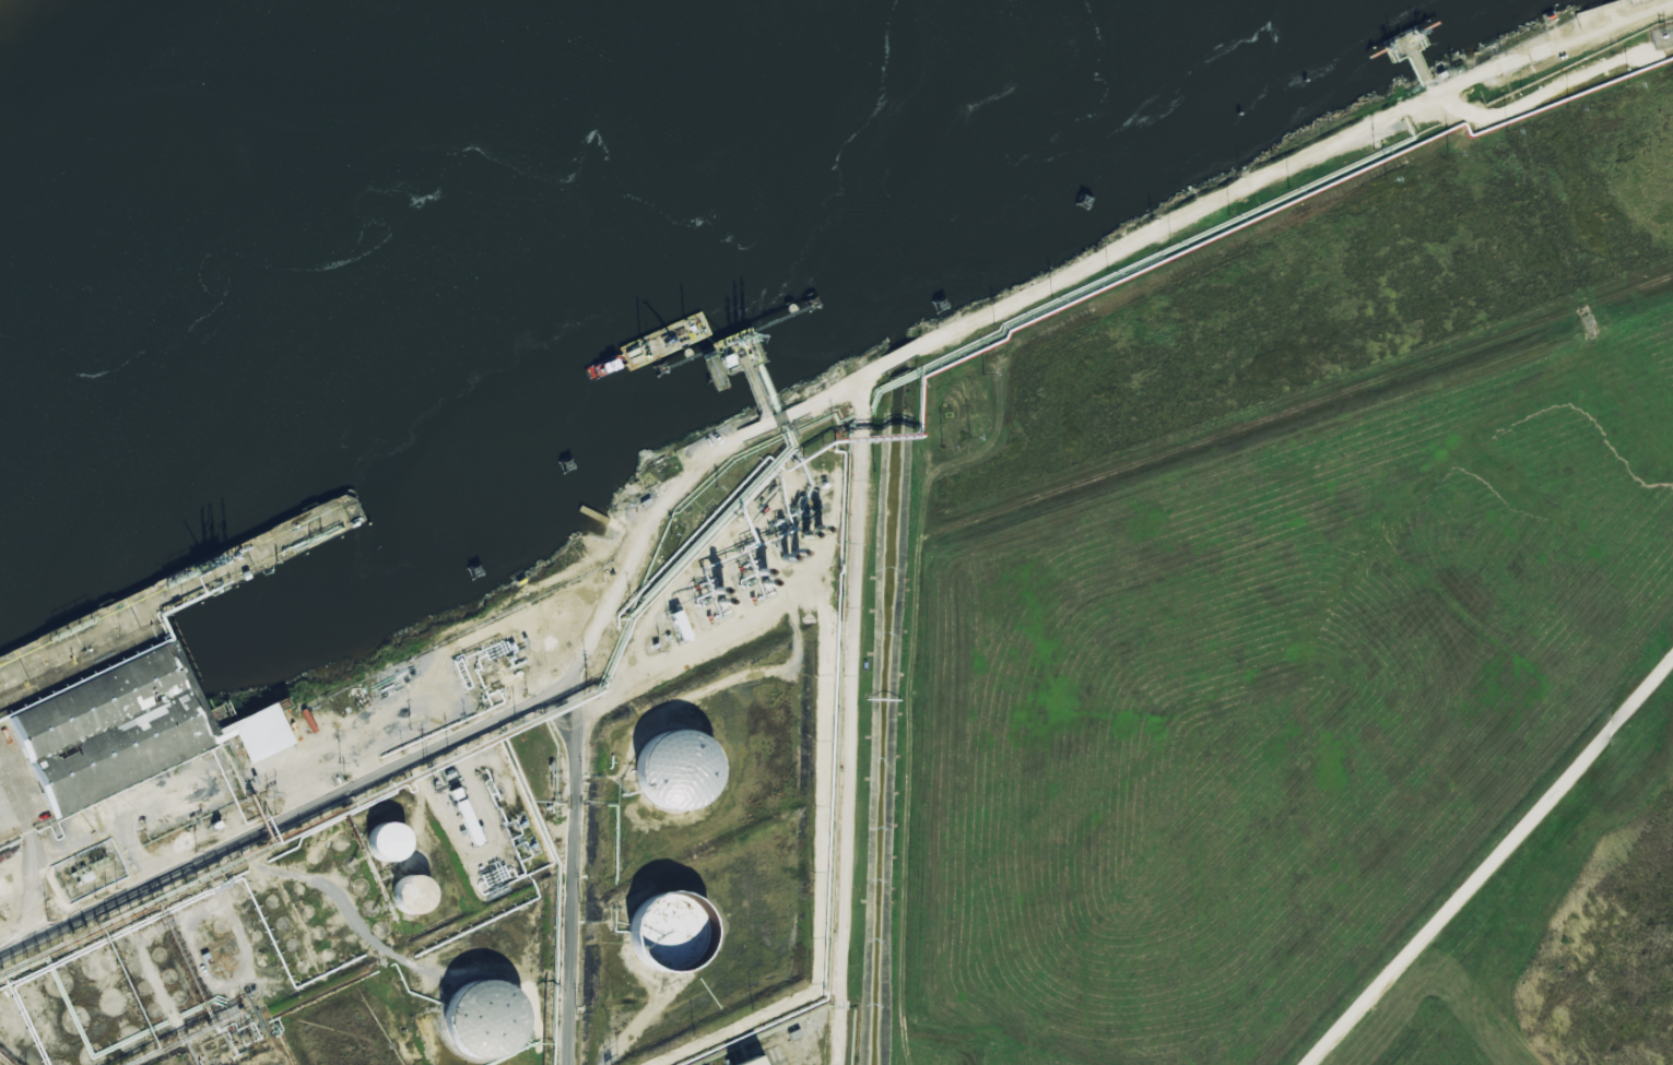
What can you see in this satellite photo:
road: (1544, 44)
river: (378, 194)
road: (864, 414)
building: (678, 626)
building: (257, 735)
building: (93, 747)
road: (443, 753)
building: (678, 774)
storage tank: (678, 774)
building: (471, 836)
building: (389, 848)
storage tank: (389, 848)
road: (1491, 862)
building: (414, 900)
storage tank: (414, 900)
building: (670, 932)
storage tank: (670, 932)
building: (483, 1025)
storage tank: (483, 1025)
building: (792, 1038)
building: (747, 1063)

